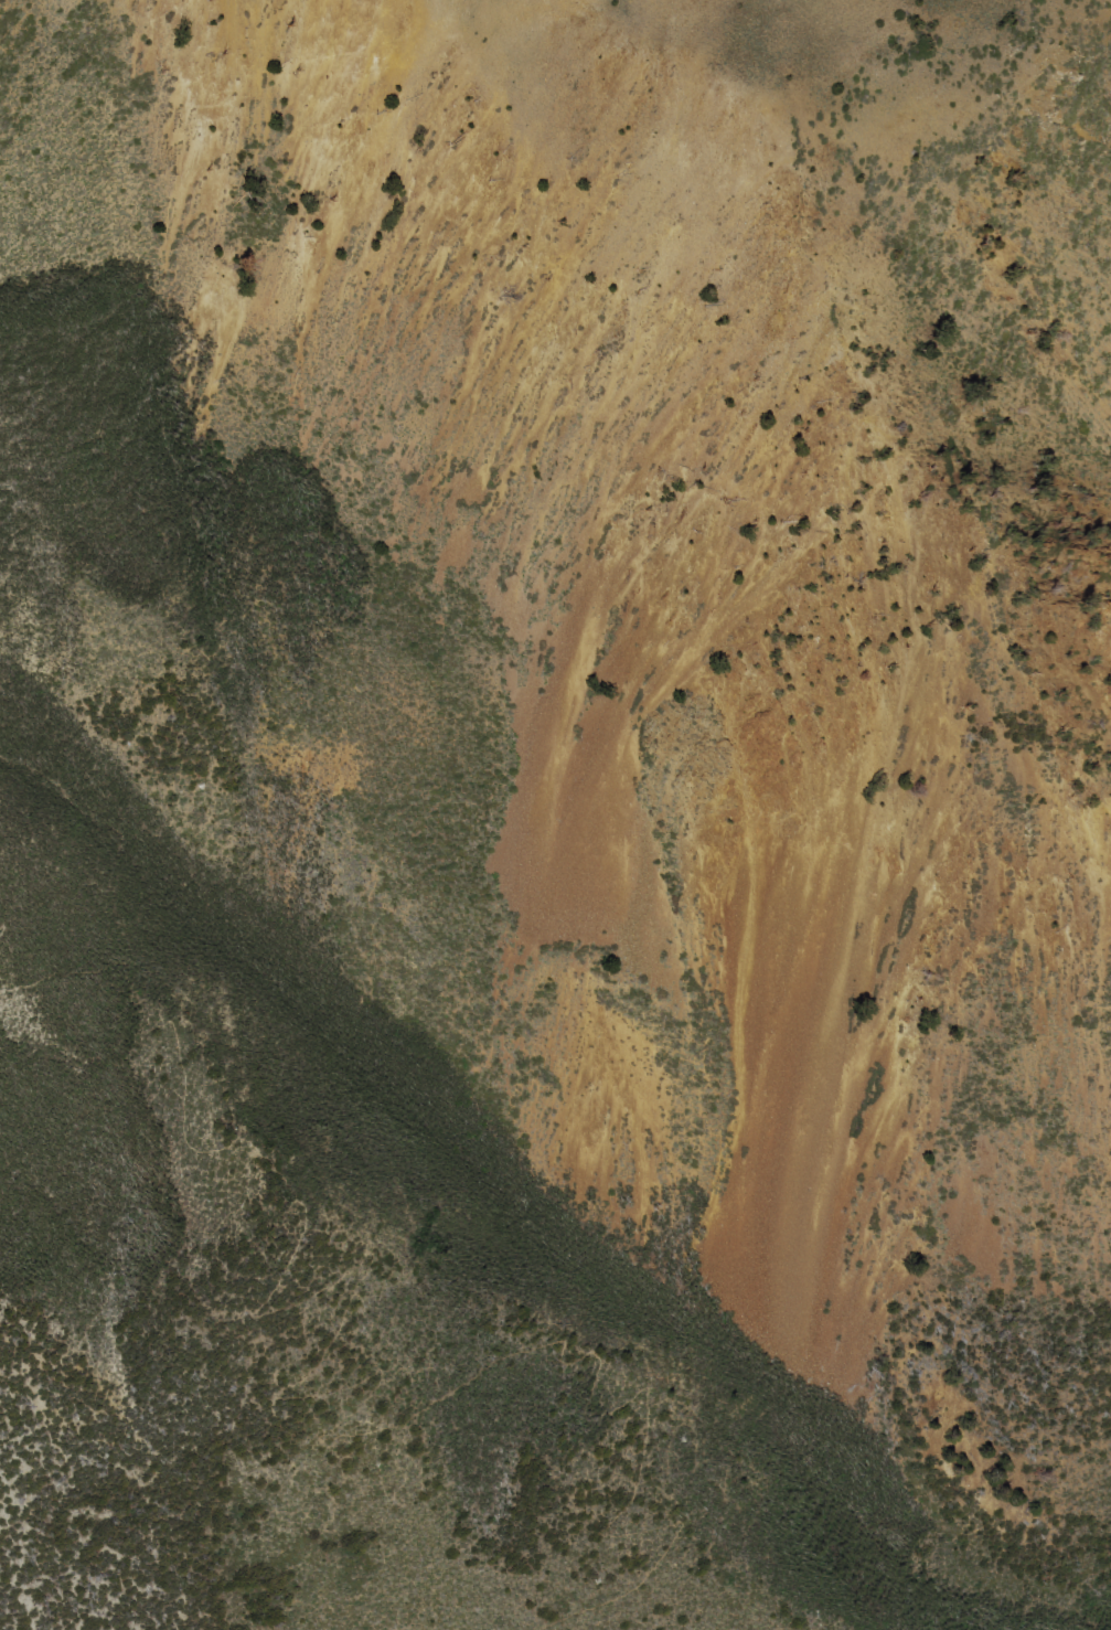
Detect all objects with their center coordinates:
road: (17, 20)
road: (0, 926)
road: (348, 1386)

